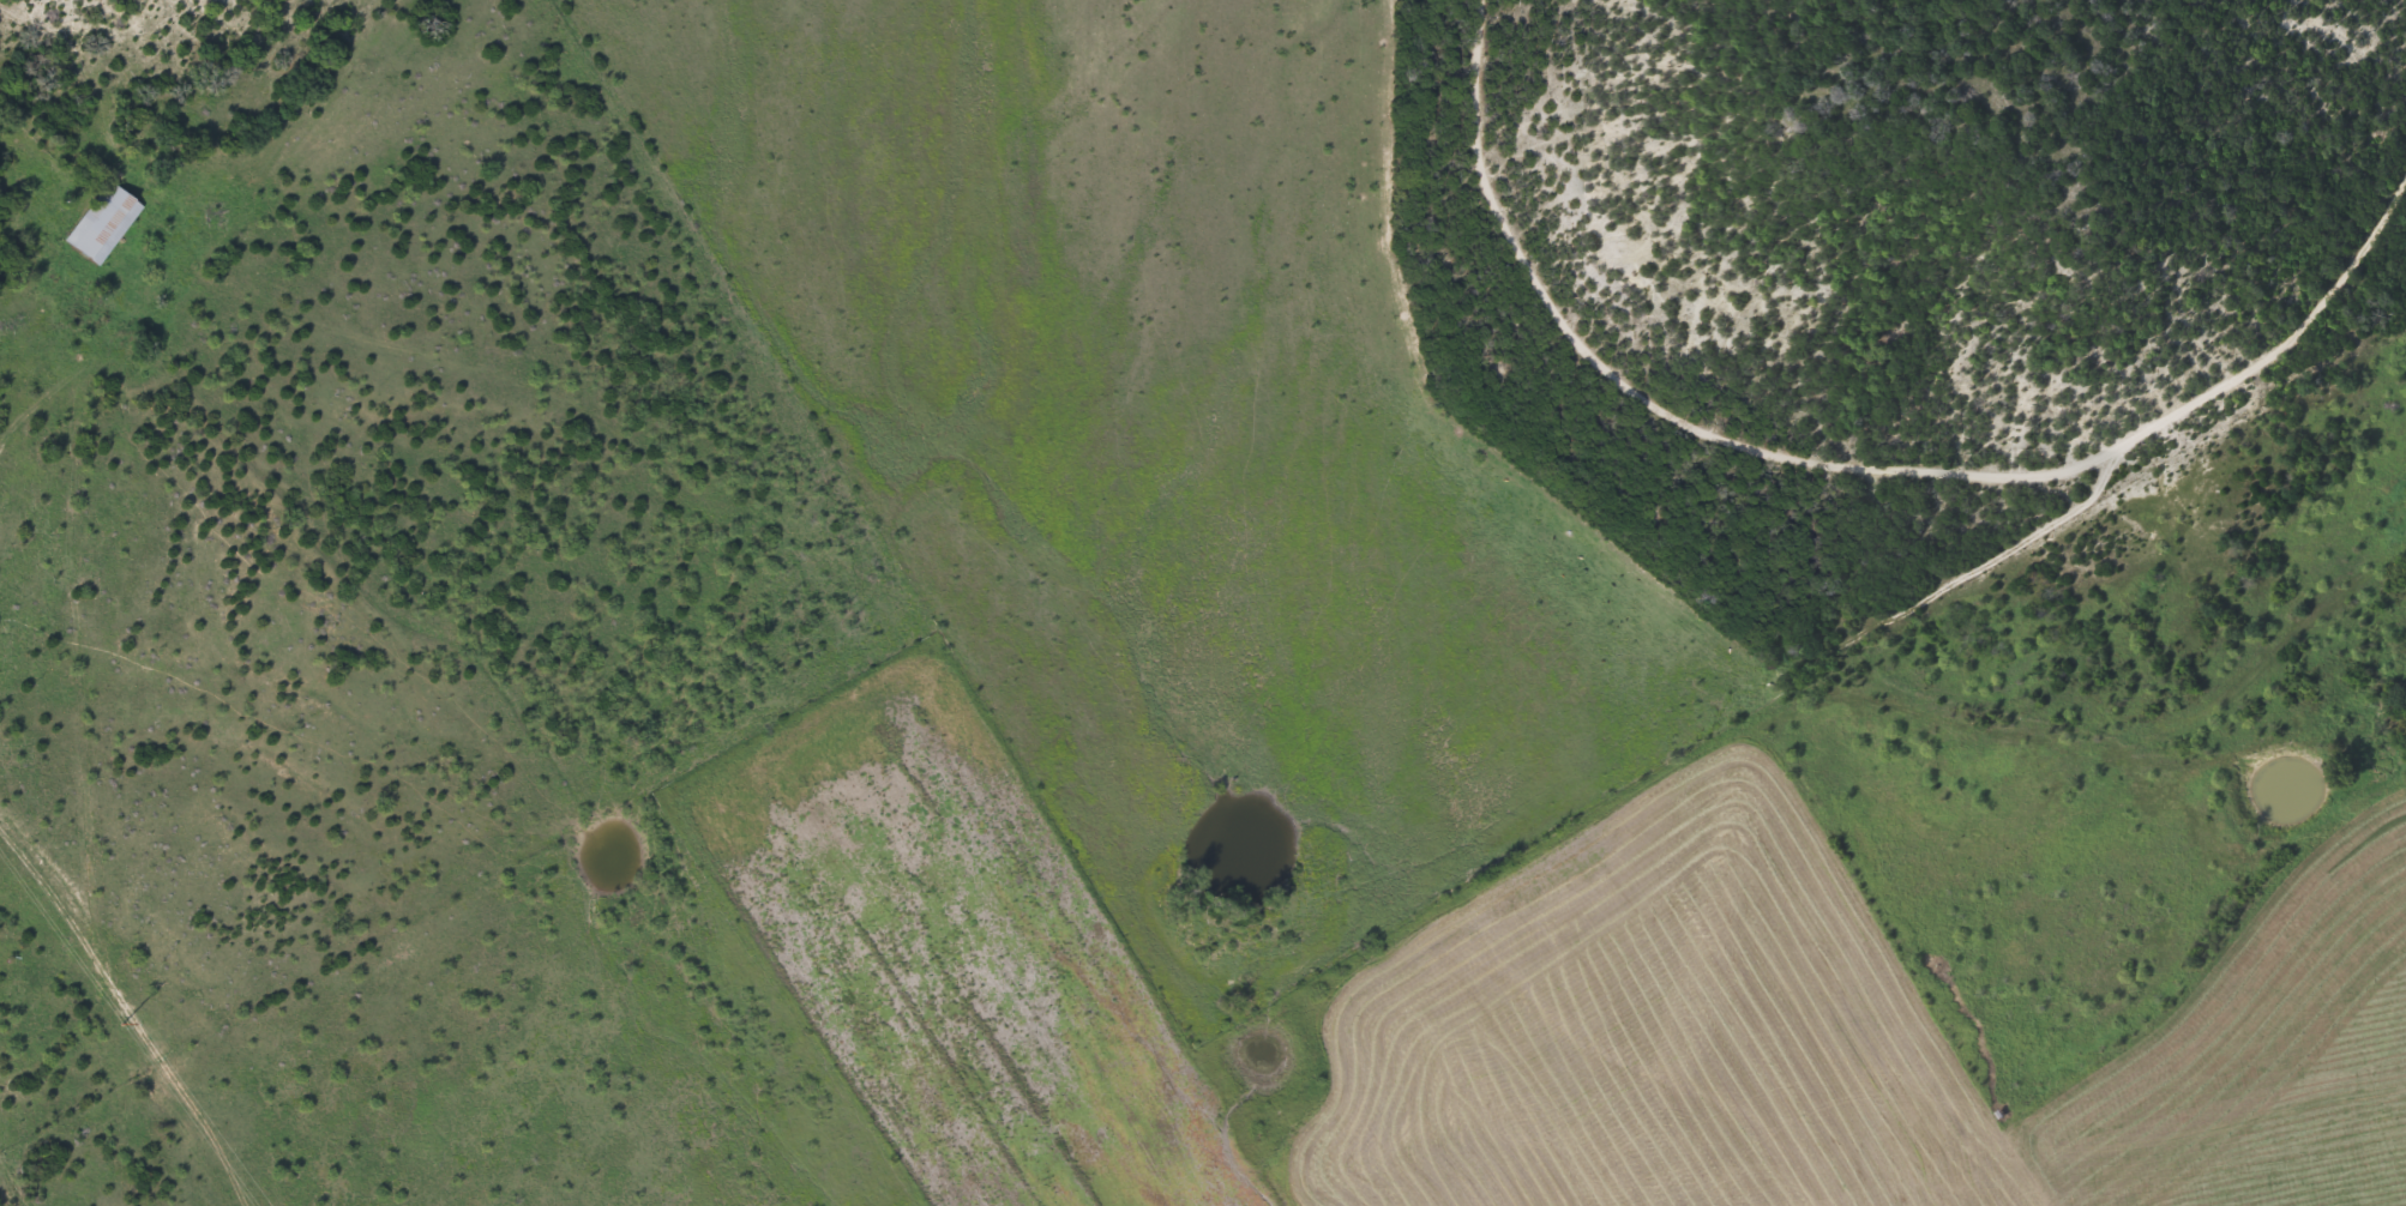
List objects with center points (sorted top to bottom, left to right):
building: (112, 221)
road: (172, 233)
road: (1739, 614)

